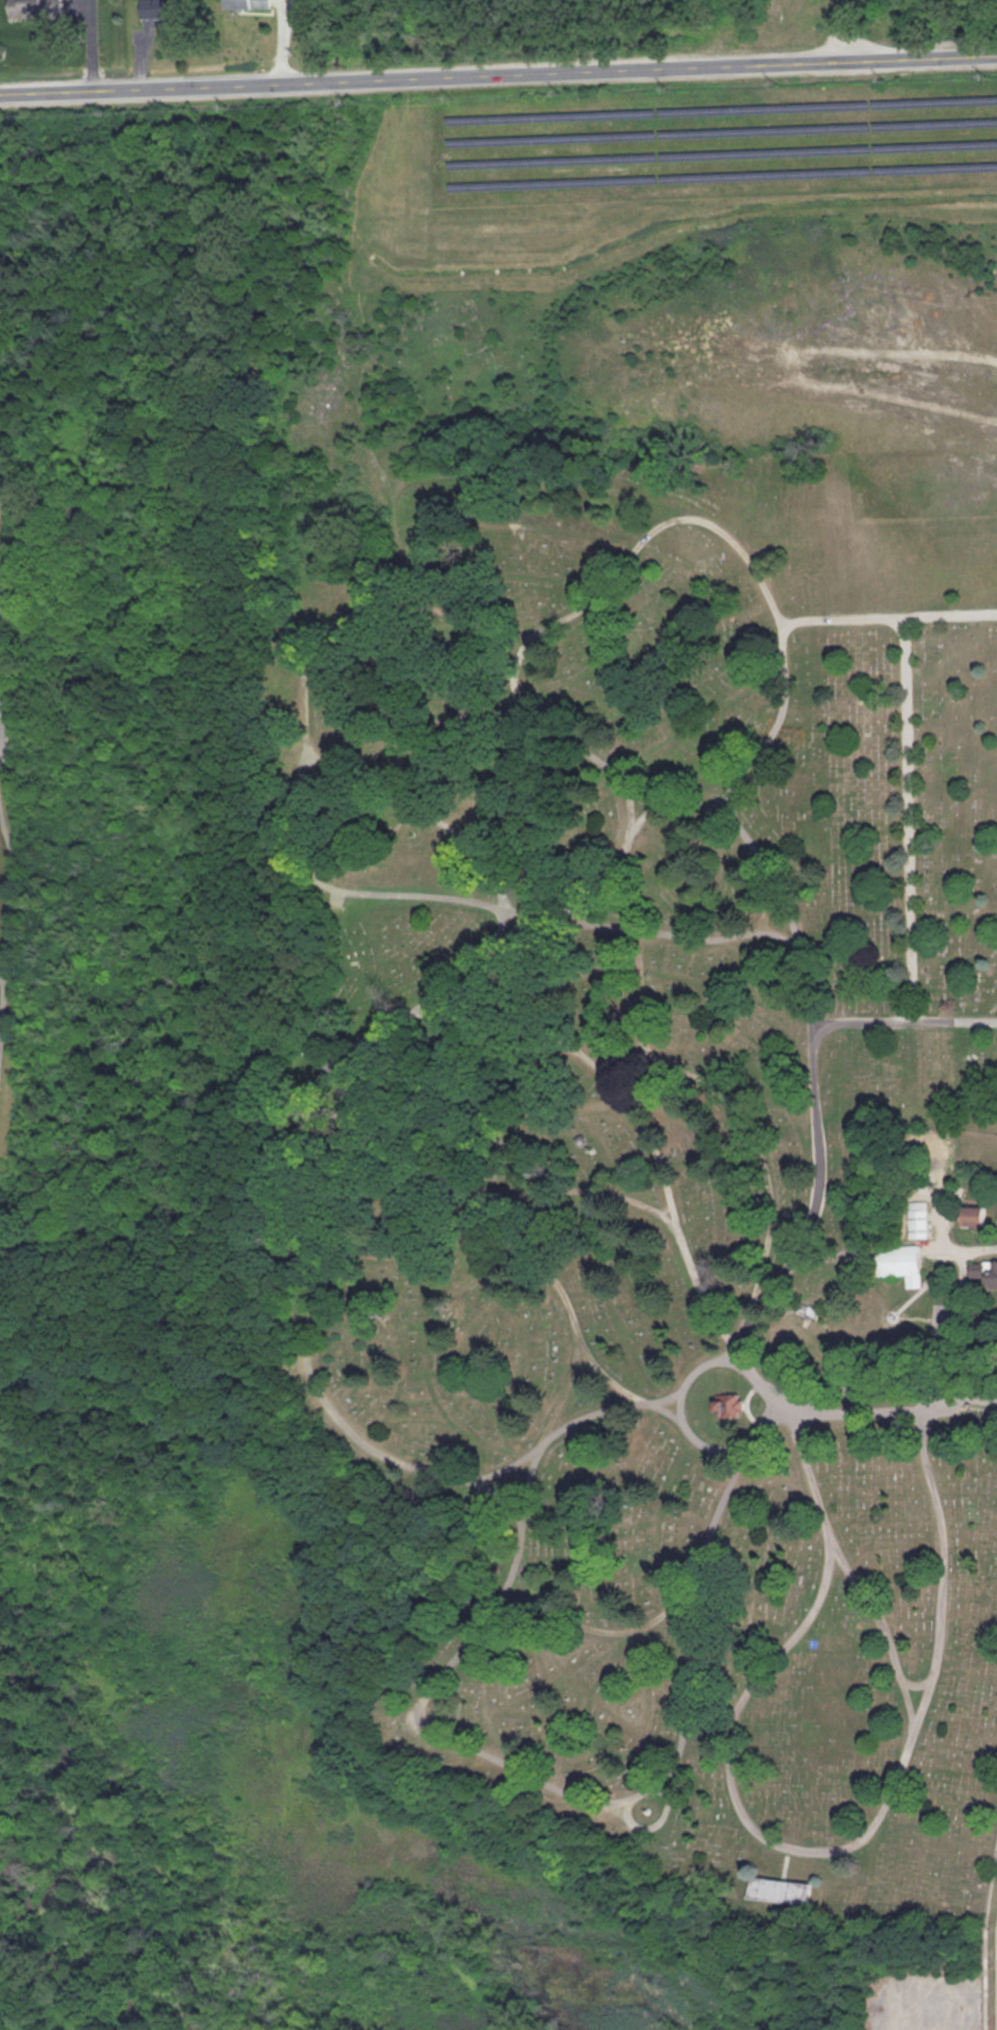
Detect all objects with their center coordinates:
building: (250, 4)
building: (36, 9)
building: (163, 9)
road: (668, 63)
road: (170, 82)
solar farm: (713, 142)
road: (589, 594)
road: (885, 617)
road: (456, 712)
road: (346, 766)
road: (625, 803)
road: (903, 818)
road: (4, 919)
park: (522, 1007)
road: (901, 1020)
road: (559, 1041)
road: (652, 1109)
road: (756, 1155)
building: (976, 1217)
building: (921, 1221)
road: (948, 1245)
road: (831, 1248)
road: (510, 1249)
road: (397, 1252)
building: (902, 1264)
building: (986, 1272)
building: (809, 1312)
road: (954, 1321)
road: (744, 1366)
road: (855, 1389)
road: (965, 1396)
road: (995, 1396)
road: (995, 1397)
road: (959, 1400)
road: (935, 1401)
road: (978, 1405)
building: (731, 1406)
road: (747, 1406)
road: (850, 1408)
road: (570, 1419)
road: (437, 1471)
road: (520, 1484)
road: (877, 1619)
road: (912, 1682)
road: (655, 1818)
road: (799, 1848)
road: (785, 1863)
building: (782, 1890)
road: (985, 1938)

